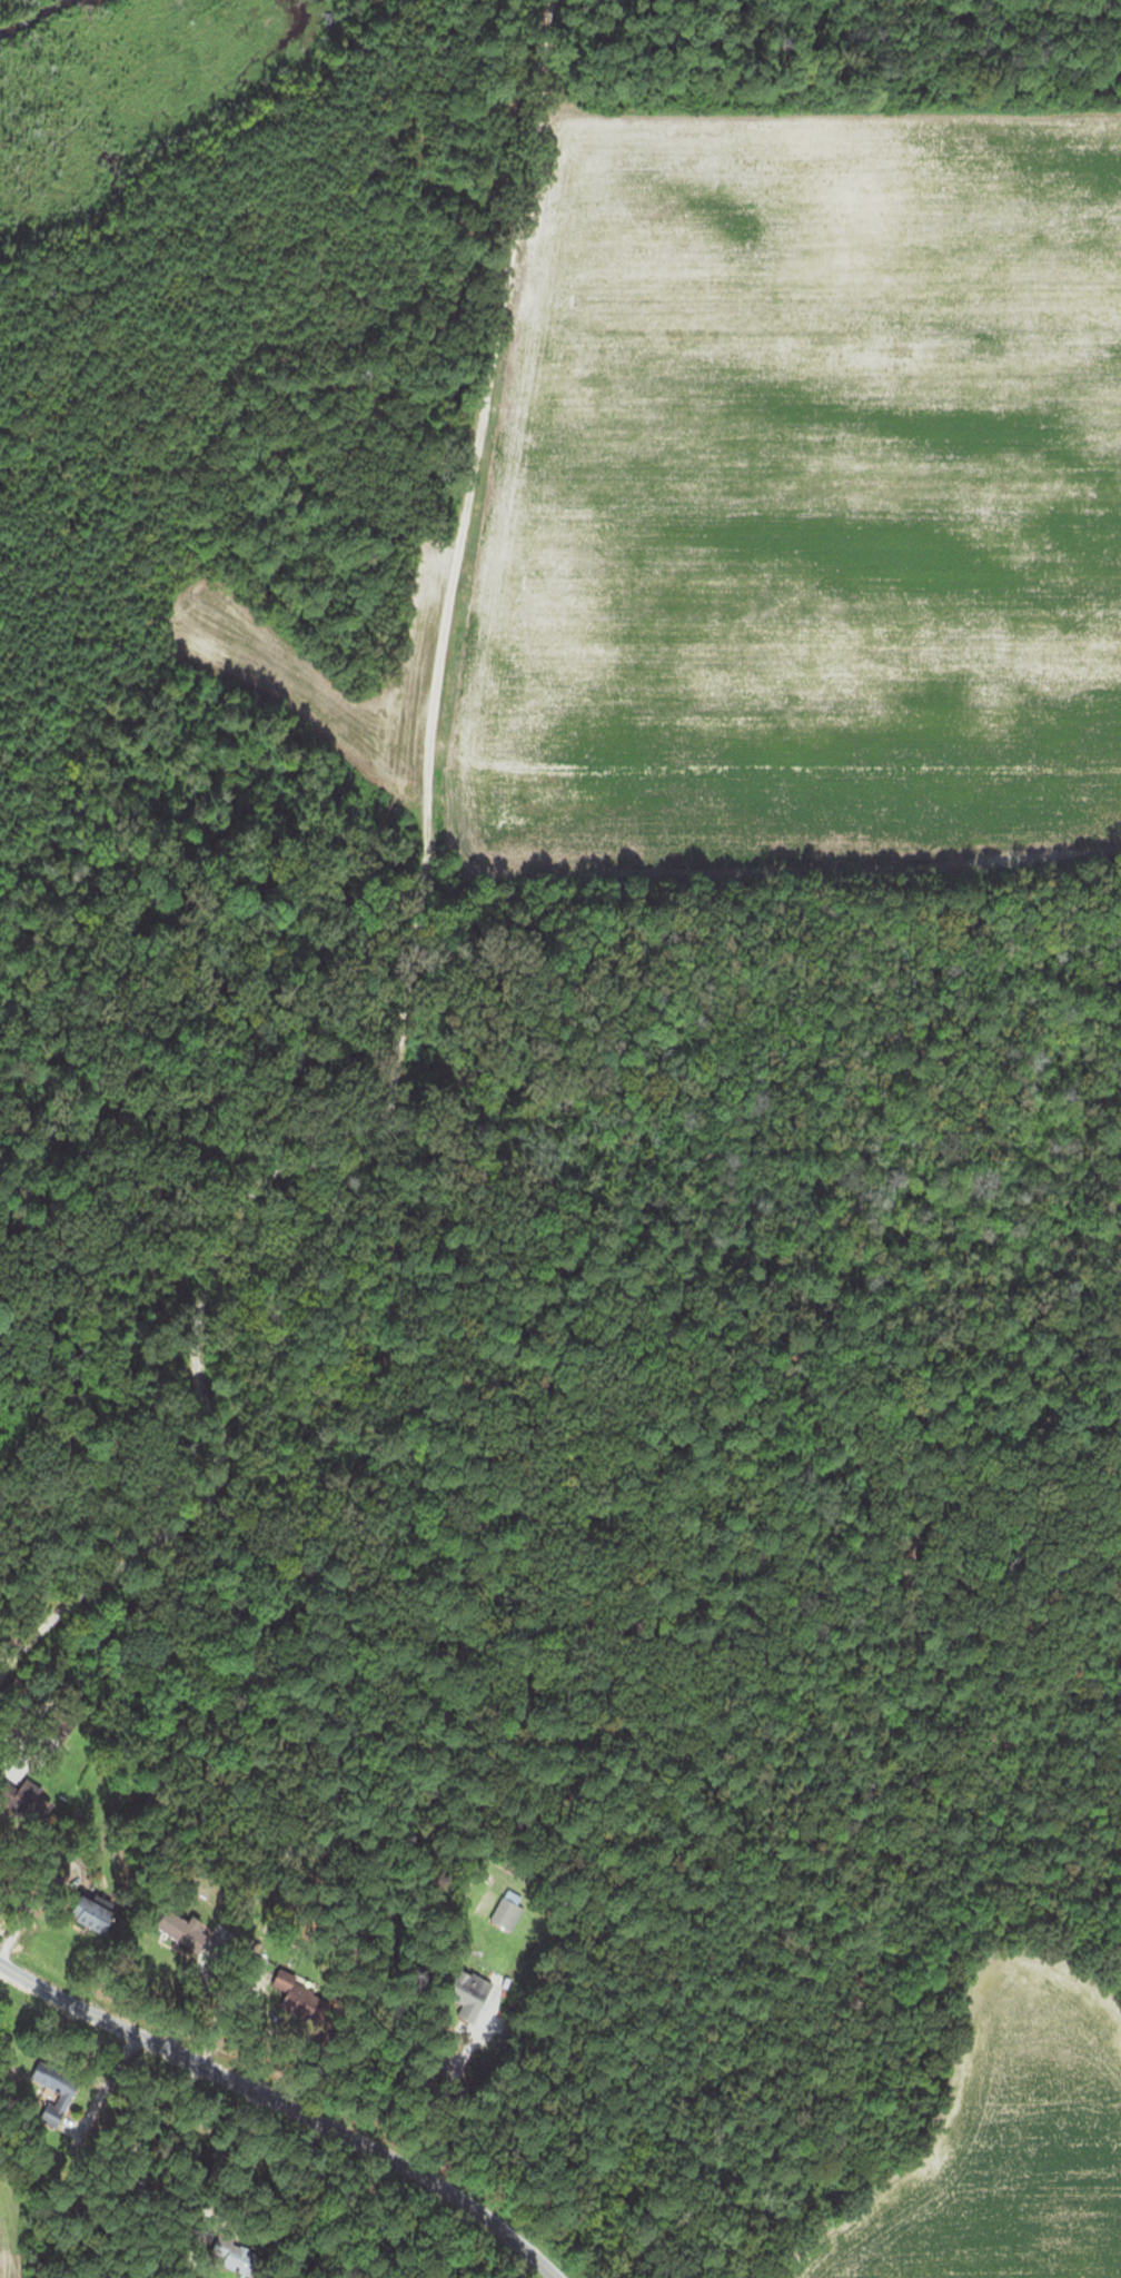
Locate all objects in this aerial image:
road: (419, 924)
building: (19, 1802)
building: (169, 1927)
building: (457, 1992)
building: (42, 2083)
road: (428, 2086)
road: (282, 2104)

